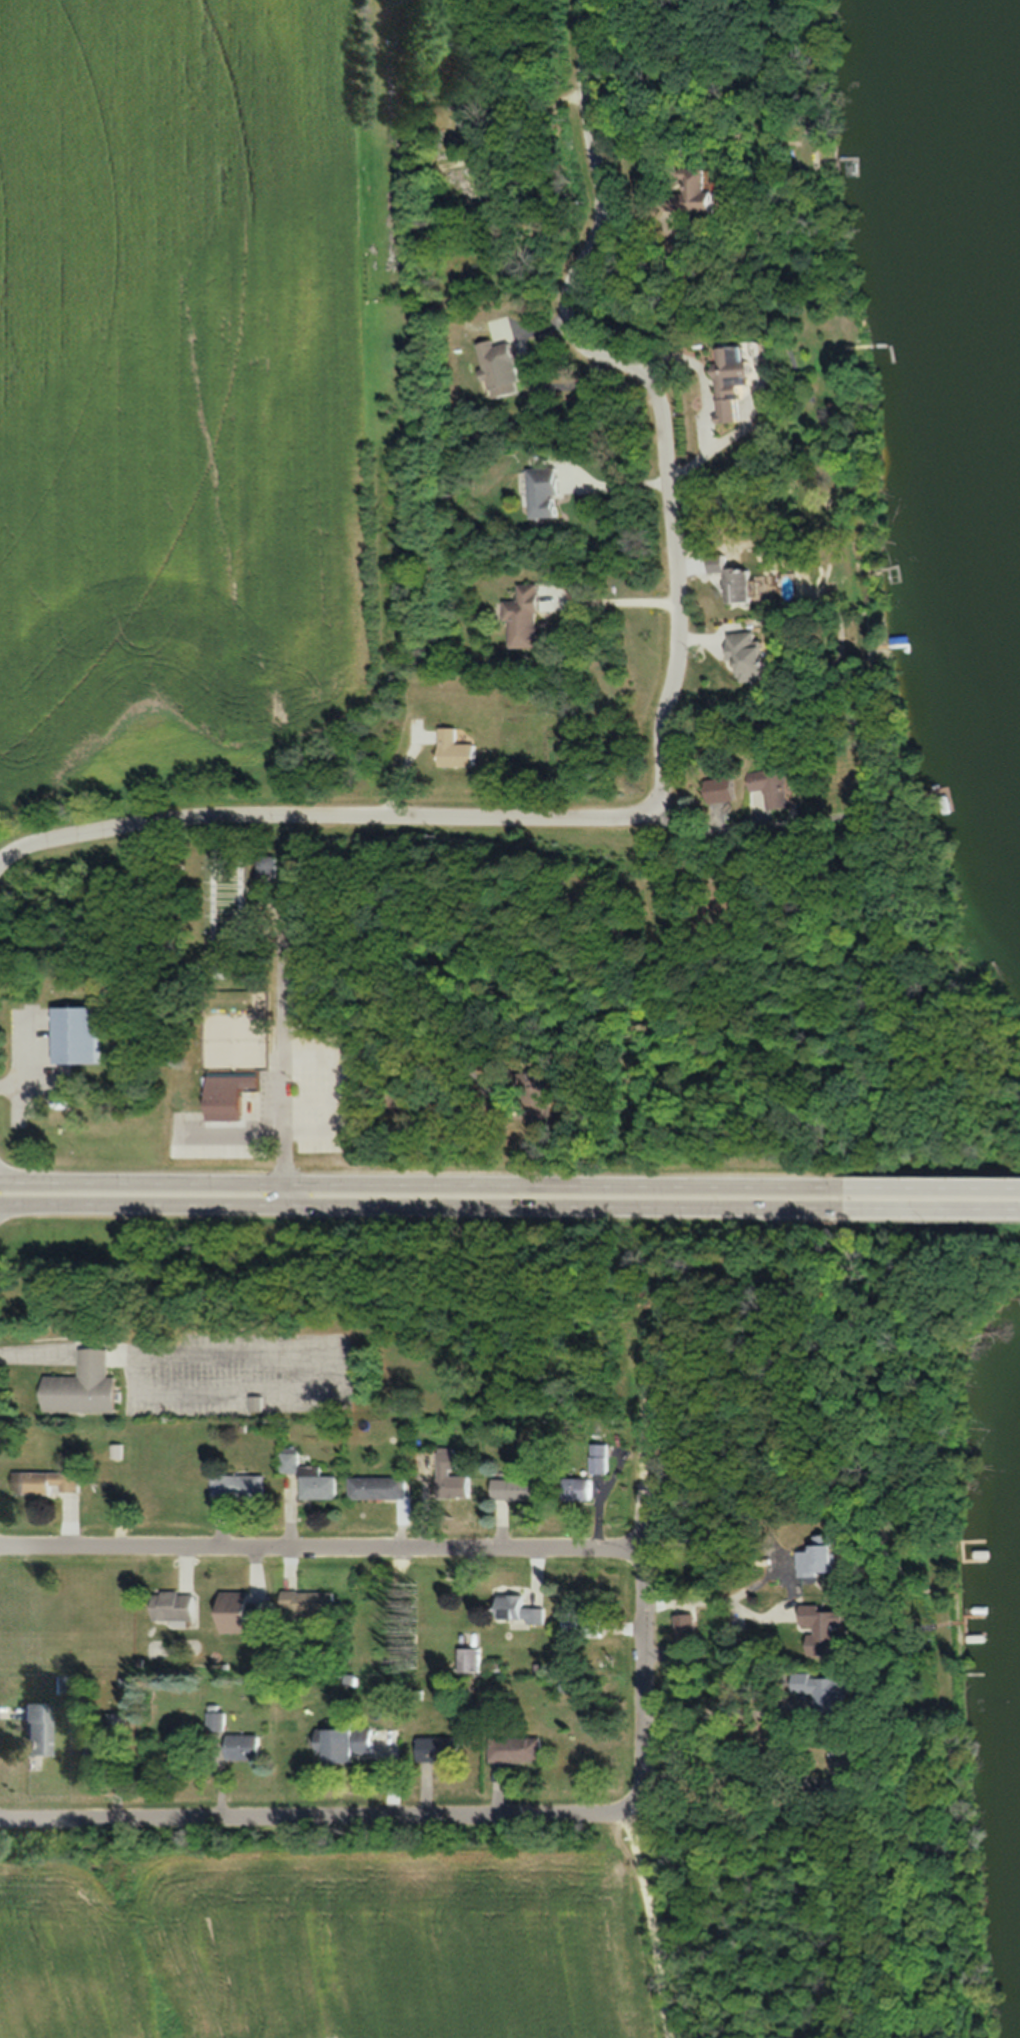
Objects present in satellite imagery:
building: (706, 192)
building: (502, 368)
building: (744, 379)
road: (665, 452)
building: (547, 491)
building: (740, 579)
building: (528, 617)
building: (758, 656)
building: (458, 749)
building: (779, 786)
building: (726, 789)
road: (398, 820)
road: (165, 825)
road: (22, 852)
road: (401, 1008)
road: (279, 1011)
building: (79, 1035)
building: (231, 1094)
road: (420, 1182)
road: (931, 1184)
road: (421, 1203)
road: (931, 1206)
building: (85, 1385)
building: (117, 1451)
building: (598, 1457)
building: (292, 1461)
building: (451, 1473)
building: (47, 1482)
building: (320, 1483)
building: (241, 1485)
building: (379, 1487)
building: (516, 1488)
building: (579, 1488)
road: (321, 1549)
building: (829, 1555)
building: (312, 1602)
building: (177, 1605)
building: (518, 1610)
building: (244, 1613)
building: (581, 1620)
building: (832, 1629)
building: (469, 1659)
road: (641, 1677)
building: (829, 1688)
building: (219, 1720)
building: (35, 1727)
building: (348, 1740)
building: (248, 1745)
building: (440, 1748)
building: (517, 1748)
road: (317, 1814)
crop: (325, 1930)

